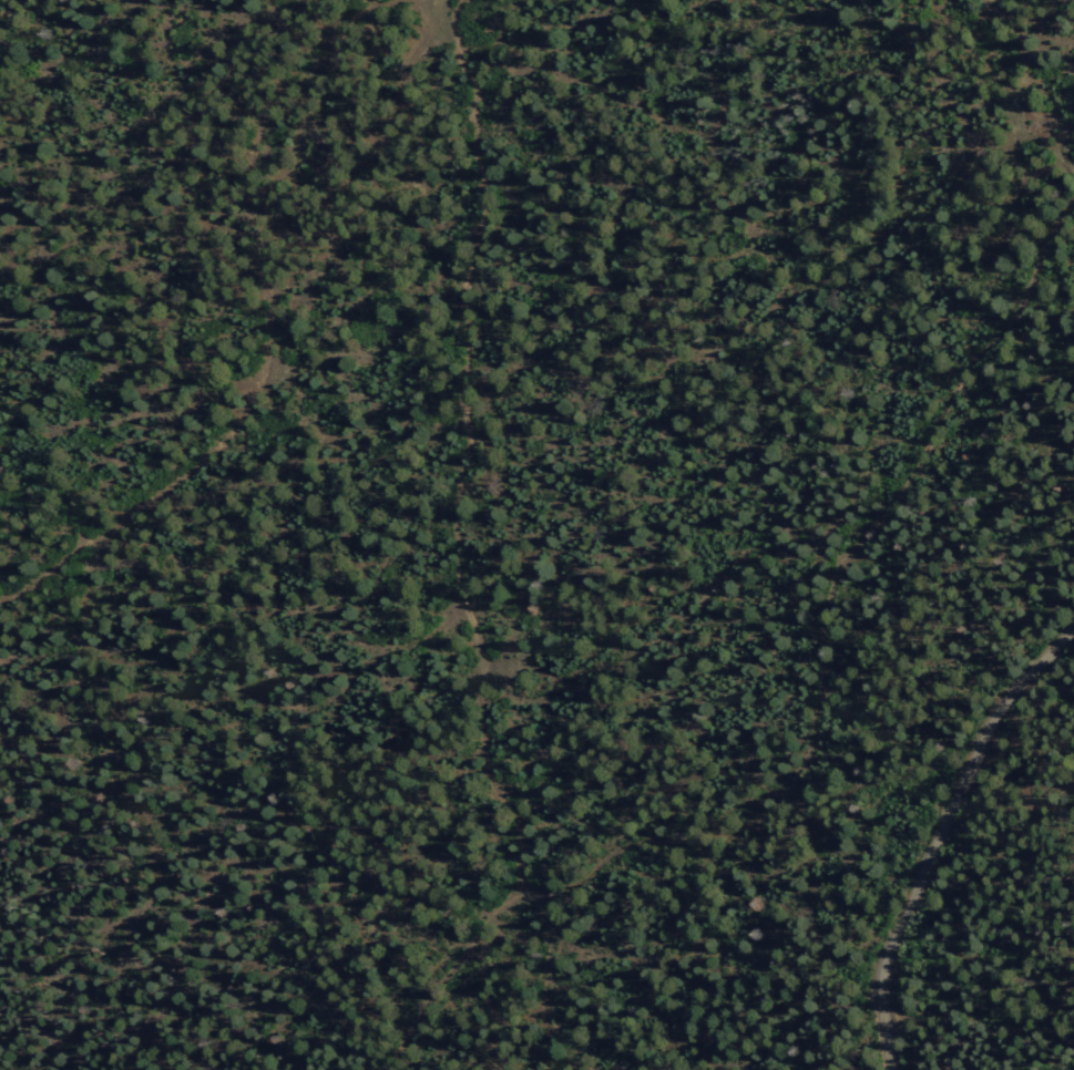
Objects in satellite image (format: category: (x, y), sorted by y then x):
road: (993, 615)

